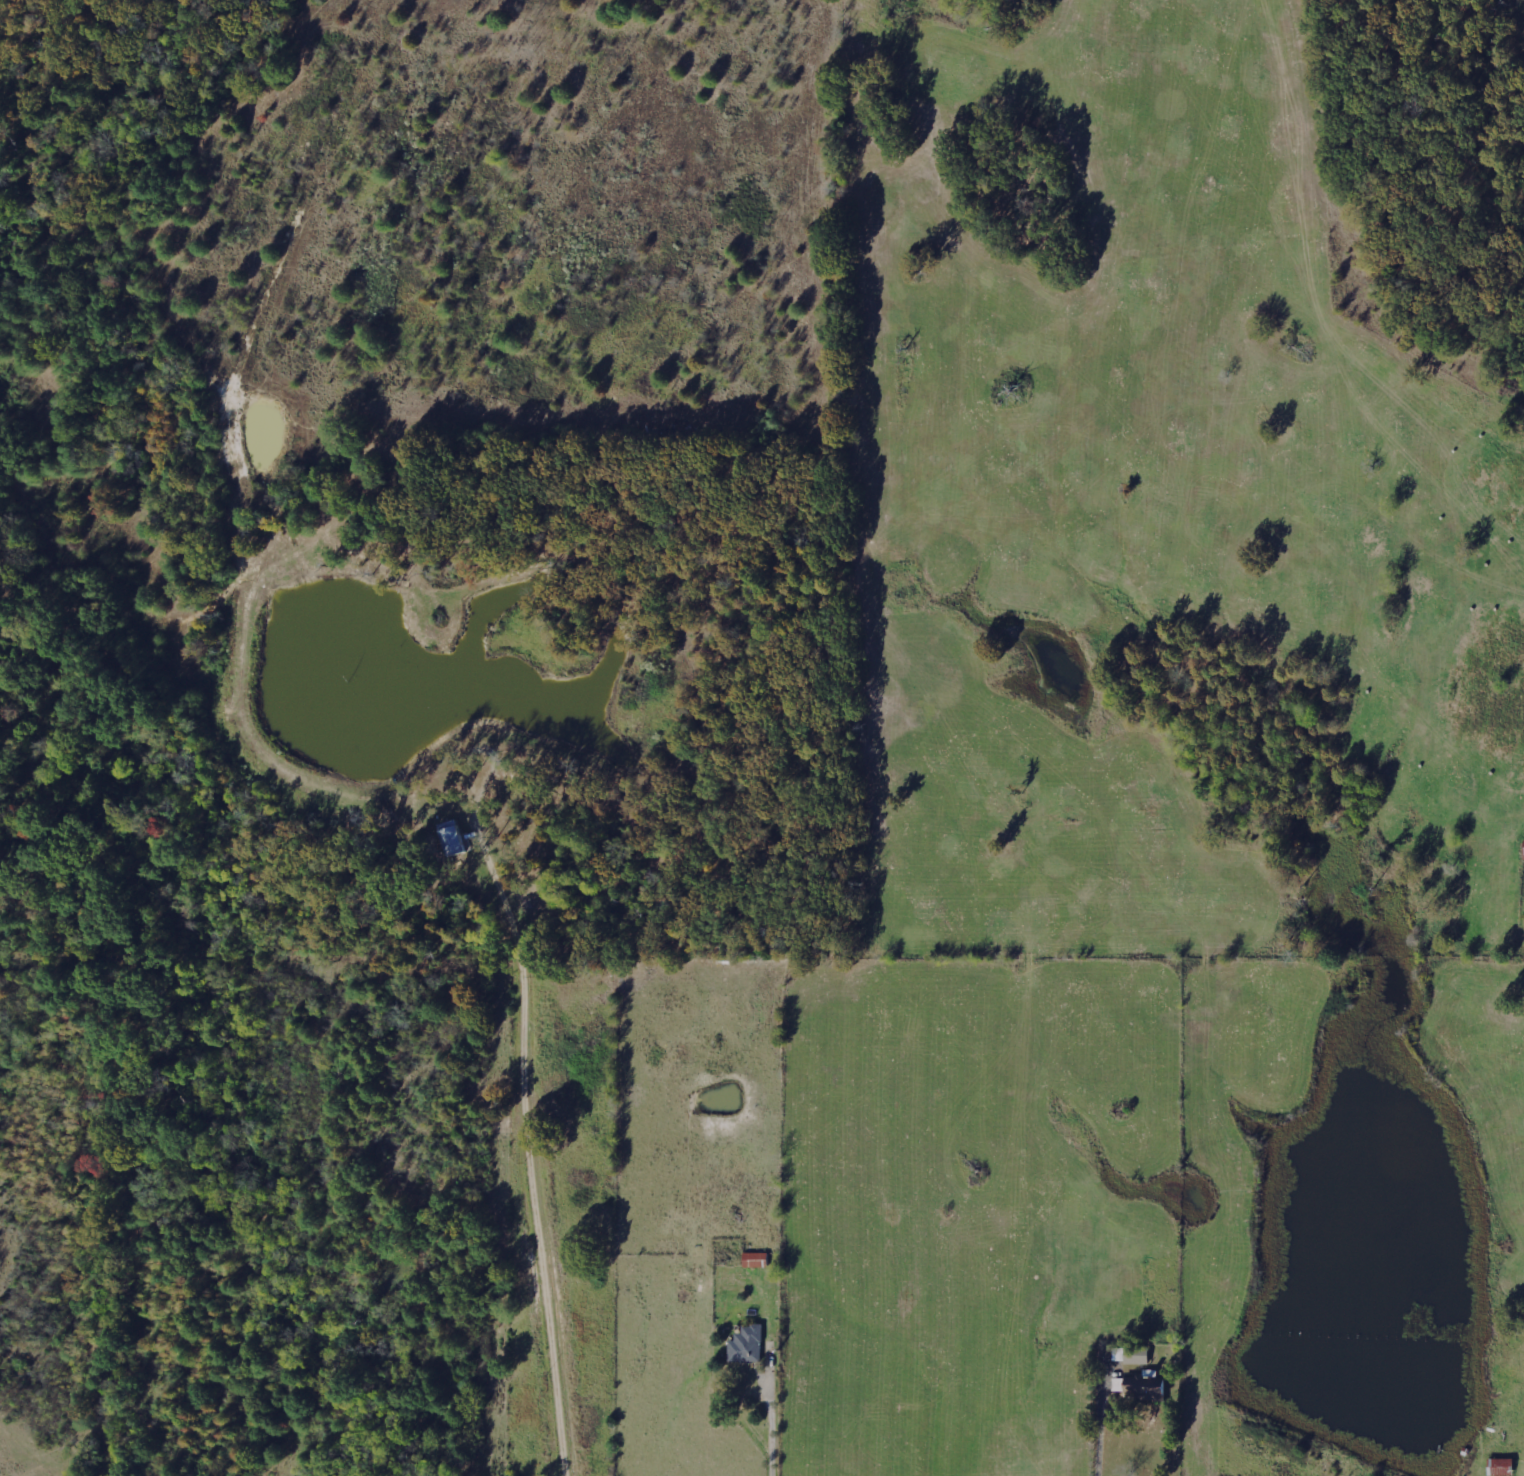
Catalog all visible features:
building: (457, 837)
building: (1523, 852)
building: (758, 1259)
building: (749, 1344)
building: (1129, 1355)
building: (1148, 1389)
road: (776, 1434)
building: (1500, 1466)

